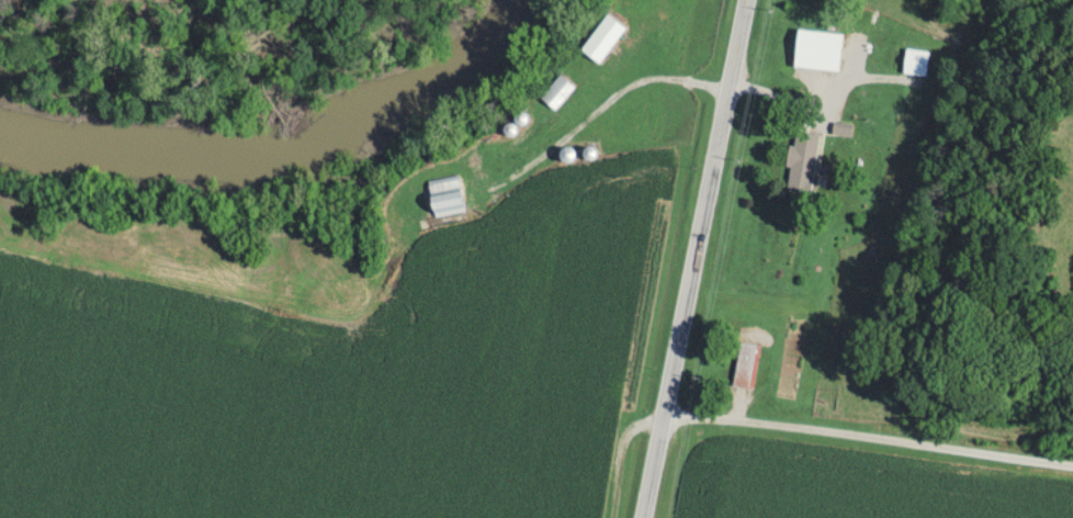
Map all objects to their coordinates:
building: (821, 50)
building: (914, 63)
building: (560, 92)
building: (804, 164)
building: (449, 196)
road: (691, 258)
building: (746, 364)
road: (867, 430)

